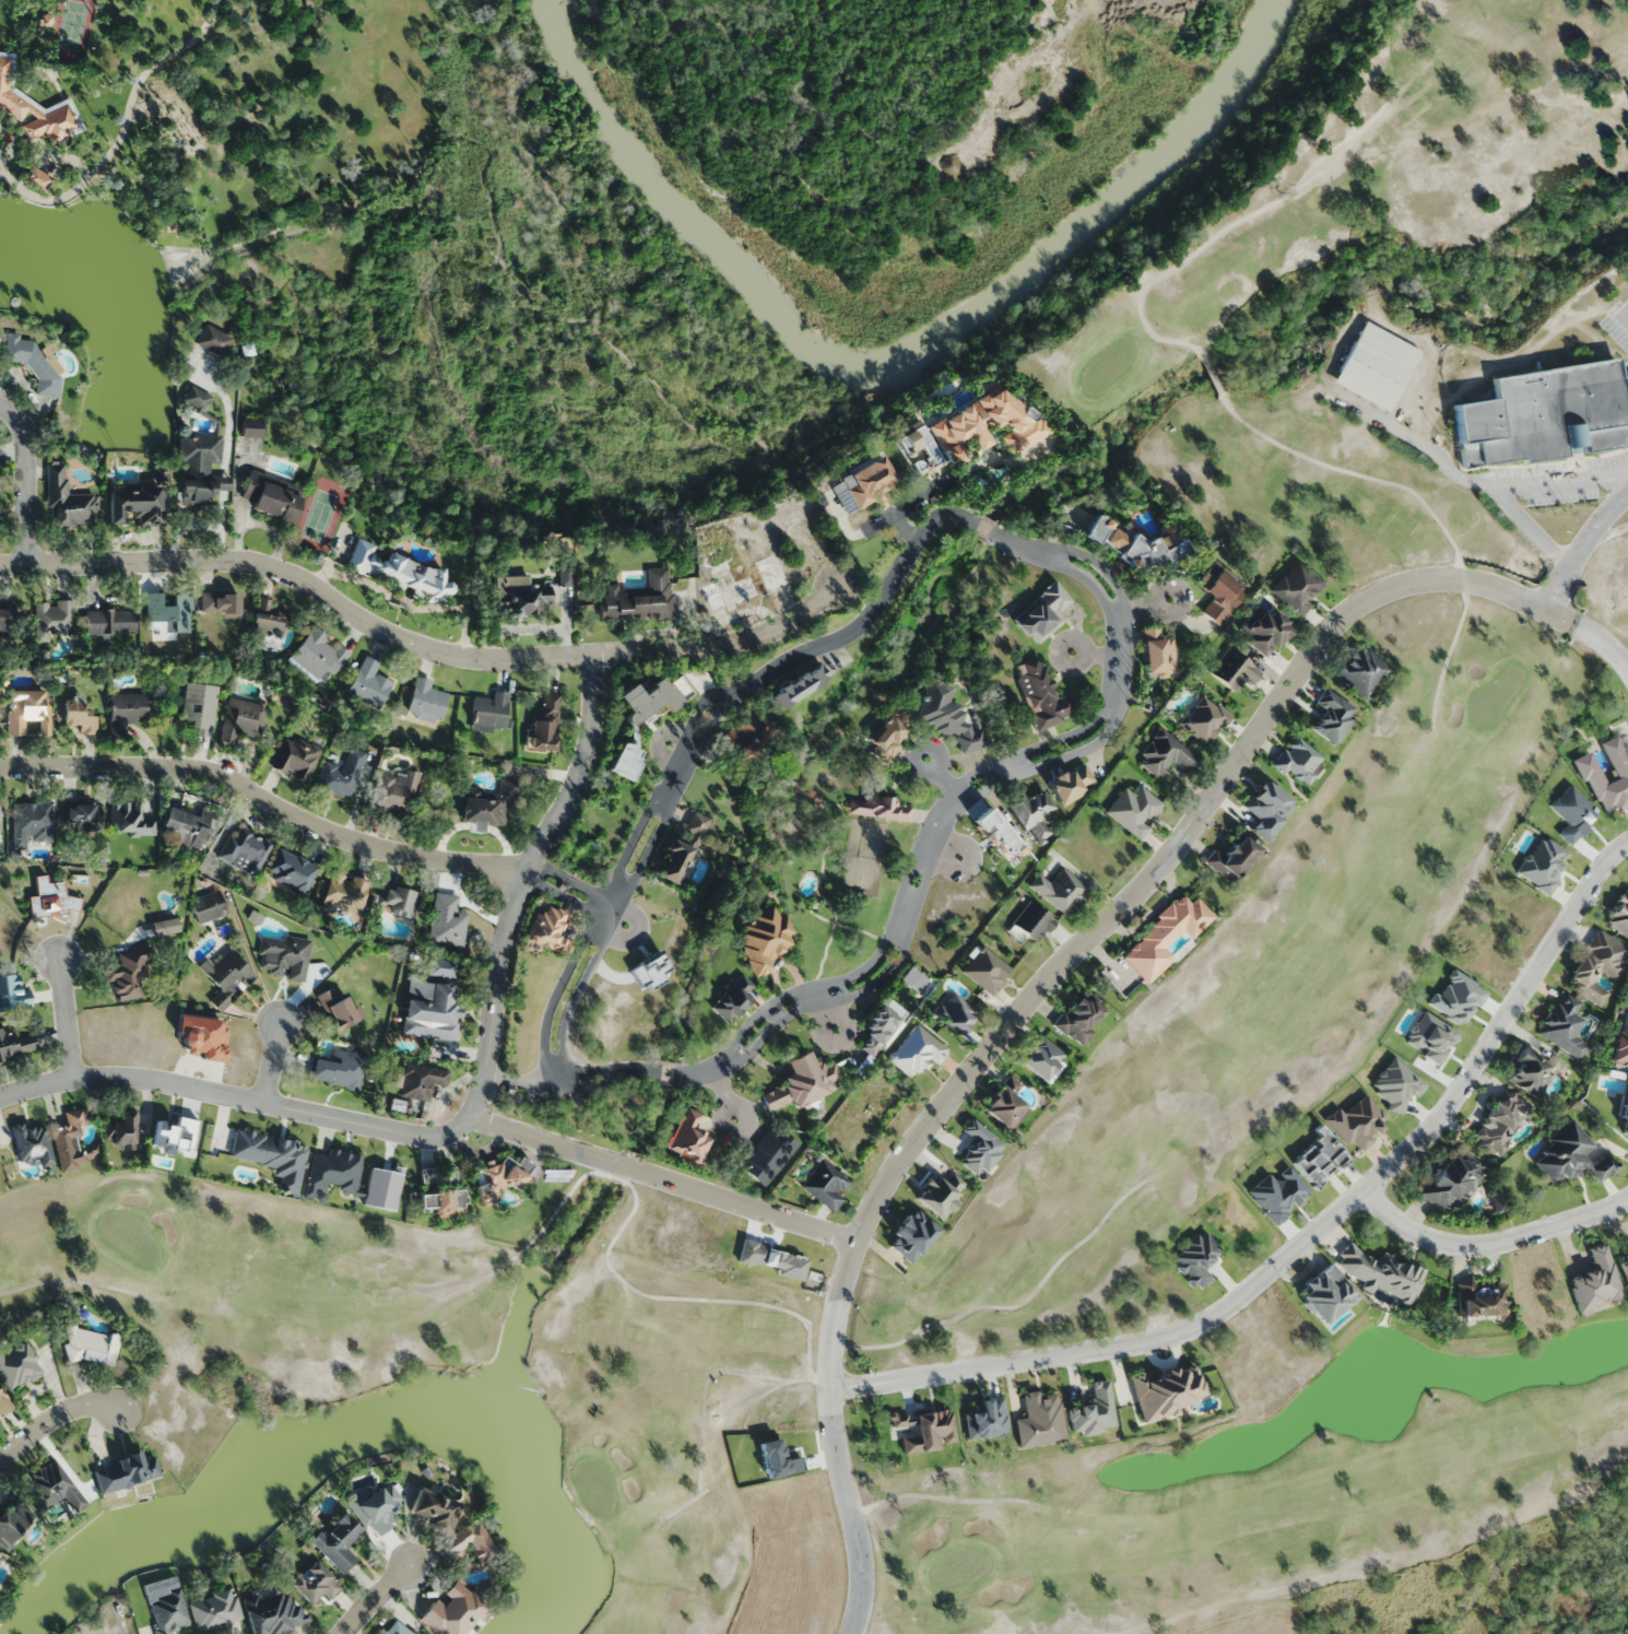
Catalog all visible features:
building: (34, 108)
road: (1189, 257)
road: (1624, 310)
road: (1624, 318)
building: (211, 340)
building: (37, 363)
building: (1376, 366)
road: (1212, 374)
building: (194, 398)
building: (1545, 414)
building: (984, 424)
building: (249, 428)
building: (916, 449)
building: (199, 470)
road: (1455, 473)
building: (868, 480)
road: (1560, 482)
road: (26, 485)
building: (270, 498)
building: (68, 502)
building: (134, 503)
road: (1426, 505)
building: (1139, 543)
road: (1580, 549)
building: (398, 573)
building: (744, 585)
building: (1298, 588)
building: (1219, 593)
building: (519, 596)
building: (639, 598)
building: (220, 604)
road: (1144, 606)
building: (1041, 613)
building: (167, 616)
building: (55, 618)
building: (3, 619)
road: (1558, 619)
building: (110, 621)
building: (267, 625)
building: (1263, 630)
road: (417, 647)
building: (1157, 653)
road: (1097, 654)
building: (318, 656)
building: (1230, 669)
building: (1361, 672)
building: (368, 683)
building: (798, 686)
building: (1041, 695)
building: (651, 700)
building: (426, 701)
building: (199, 708)
building: (27, 712)
building: (125, 713)
building: (489, 713)
building: (947, 715)
building: (78, 716)
building: (1333, 717)
building: (1204, 719)
building: (243, 720)
building: (545, 721)
building: (888, 734)
building: (743, 736)
road: (694, 744)
road: (681, 748)
building: (1165, 752)
building: (298, 760)
building: (626, 761)
building: (1299, 762)
building: (1590, 769)
building: (341, 775)
road: (944, 777)
building: (1071, 781)
building: (397, 792)
road: (263, 803)
building: (1267, 803)
building: (491, 806)
building: (880, 808)
building: (1133, 810)
building: (1031, 813)
building: (82, 815)
building: (130, 819)
building: (31, 822)
building: (696, 826)
building: (186, 827)
building: (994, 832)
building: (244, 850)
road: (948, 853)
building: (1234, 858)
building: (673, 861)
road: (927, 869)
building: (292, 871)
road: (520, 883)
road: (570, 887)
building: (345, 892)
building: (1060, 892)
building: (52, 898)
building: (207, 907)
building: (397, 912)
building: (1620, 915)
building: (447, 921)
building: (1033, 921)
road: (616, 922)
building: (548, 929)
building: (765, 937)
building: (1165, 937)
building: (284, 956)
building: (1597, 967)
building: (987, 971)
building: (128, 973)
building: (226, 978)
building: (11, 992)
building: (733, 998)
building: (432, 1002)
road: (831, 1010)
building: (955, 1013)
building: (1077, 1020)
road: (66, 1021)
road: (1012, 1024)
building: (1564, 1025)
building: (878, 1028)
building: (16, 1043)
building: (1623, 1044)
building: (916, 1051)
building: (1043, 1059)
road: (272, 1062)
building: (339, 1069)
building: (1530, 1073)
building: (420, 1080)
building: (802, 1082)
road: (237, 1095)
road: (728, 1097)
building: (1006, 1105)
building: (1501, 1124)
building: (119, 1130)
building: (687, 1139)
building: (62, 1141)
building: (33, 1143)
building: (981, 1148)
building: (768, 1155)
building: (1569, 1157)
building: (333, 1172)
building: (429, 1175)
road: (582, 1176)
building: (498, 1180)
road: (662, 1182)
building: (1450, 1183)
building: (826, 1184)
building: (941, 1194)
building: (441, 1201)
building: (1497, 1201)
building: (911, 1235)
road: (1306, 1239)
road: (1490, 1244)
building: (1624, 1267)
dam: (543, 1270)
road: (748, 1278)
road: (79, 1281)
building: (1389, 1284)
building: (1480, 1301)
road: (1010, 1306)
building: (91, 1345)
building: (19, 1364)
road: (703, 1392)
building: (1166, 1392)
building: (4, 1403)
building: (1041, 1420)
road: (56, 1422)
power tower: (80, 1436)
road: (740, 1442)
building: (122, 1469)
building: (54, 1486)
building: (376, 1506)
building: (433, 1508)
building: (13, 1518)
building: (470, 1541)
building: (339, 1542)
building: (1, 1562)
building: (315, 1583)
road: (376, 1599)
building: (167, 1611)
building: (215, 1611)
building: (453, 1611)
building: (273, 1613)
building: (397, 1629)

